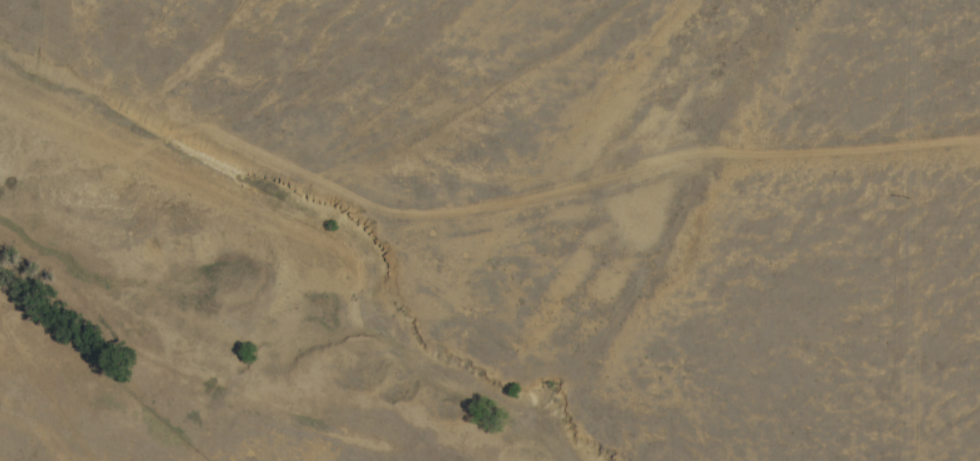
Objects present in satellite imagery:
road: (545, 229)
road: (35, 442)

